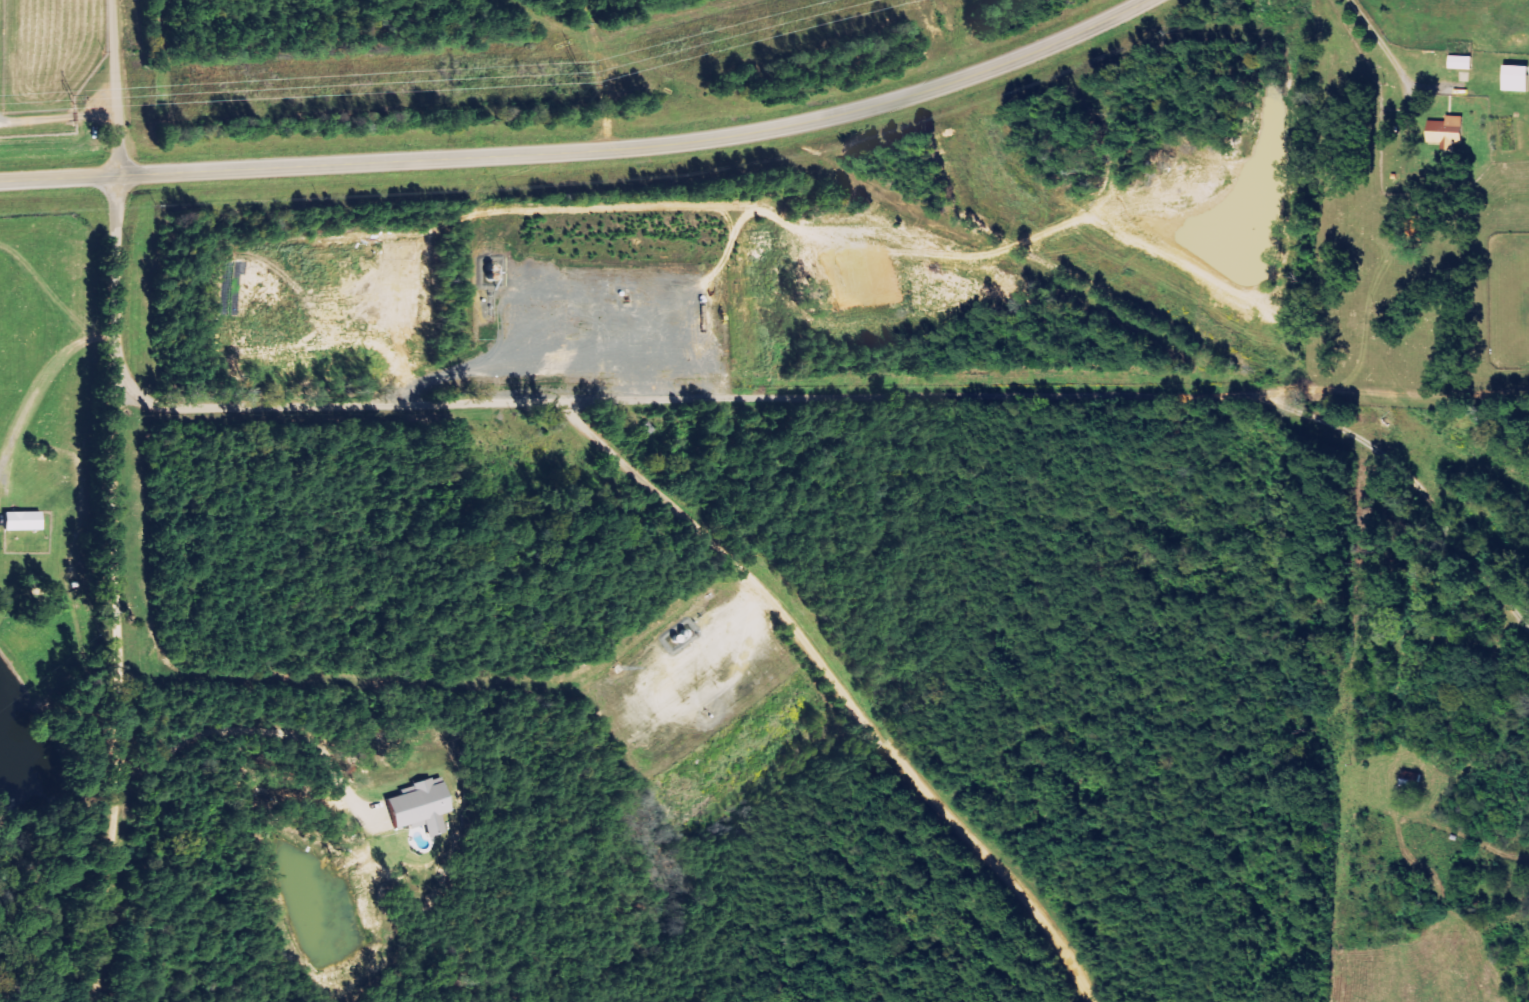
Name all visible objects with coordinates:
road: (1375, 36)
building: (1460, 61)
power tower: (580, 76)
building: (1515, 77)
road: (113, 87)
power tower: (75, 104)
road: (57, 115)
building: (1445, 131)
road: (583, 151)
road: (38, 382)
road: (1379, 389)
road: (568, 397)
road: (1404, 479)
building: (18, 521)
road: (836, 687)
road: (117, 692)
building: (1404, 778)
building: (417, 806)

